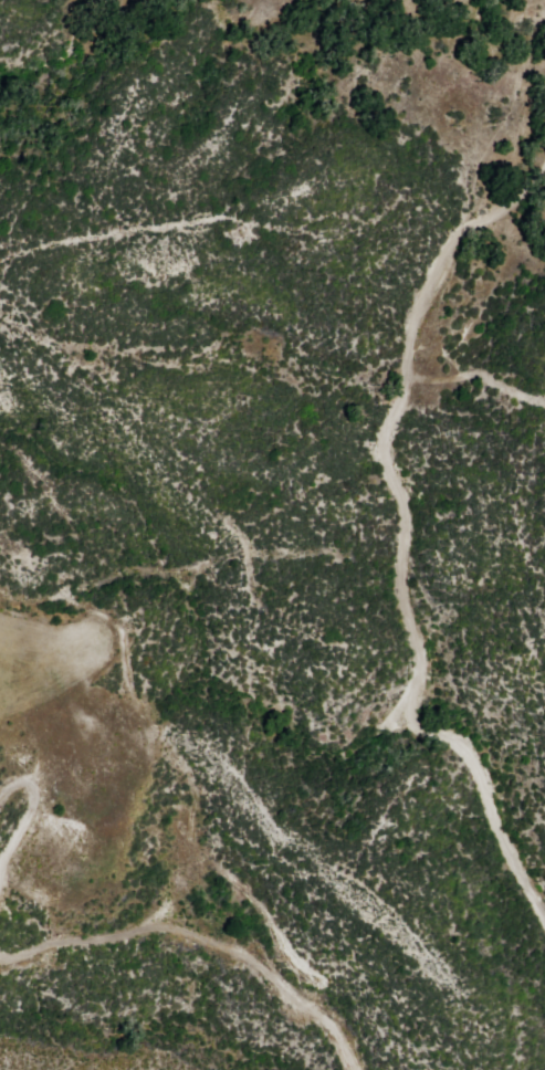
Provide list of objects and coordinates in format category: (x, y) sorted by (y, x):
road: (405, 538)

